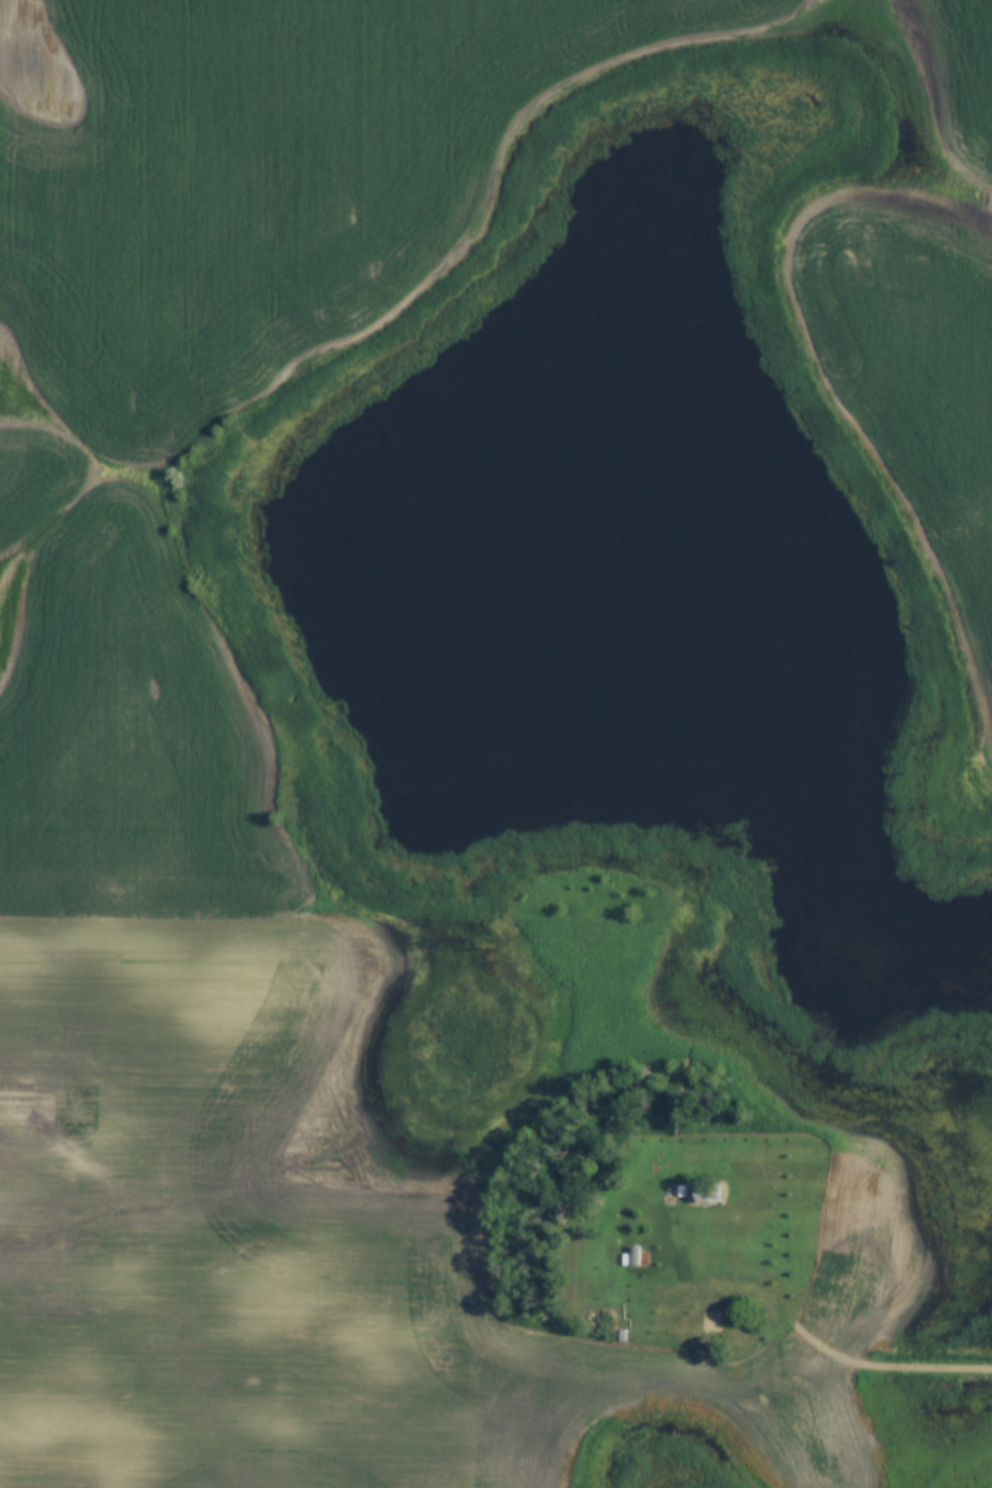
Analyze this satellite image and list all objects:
road: (820, 1362)

